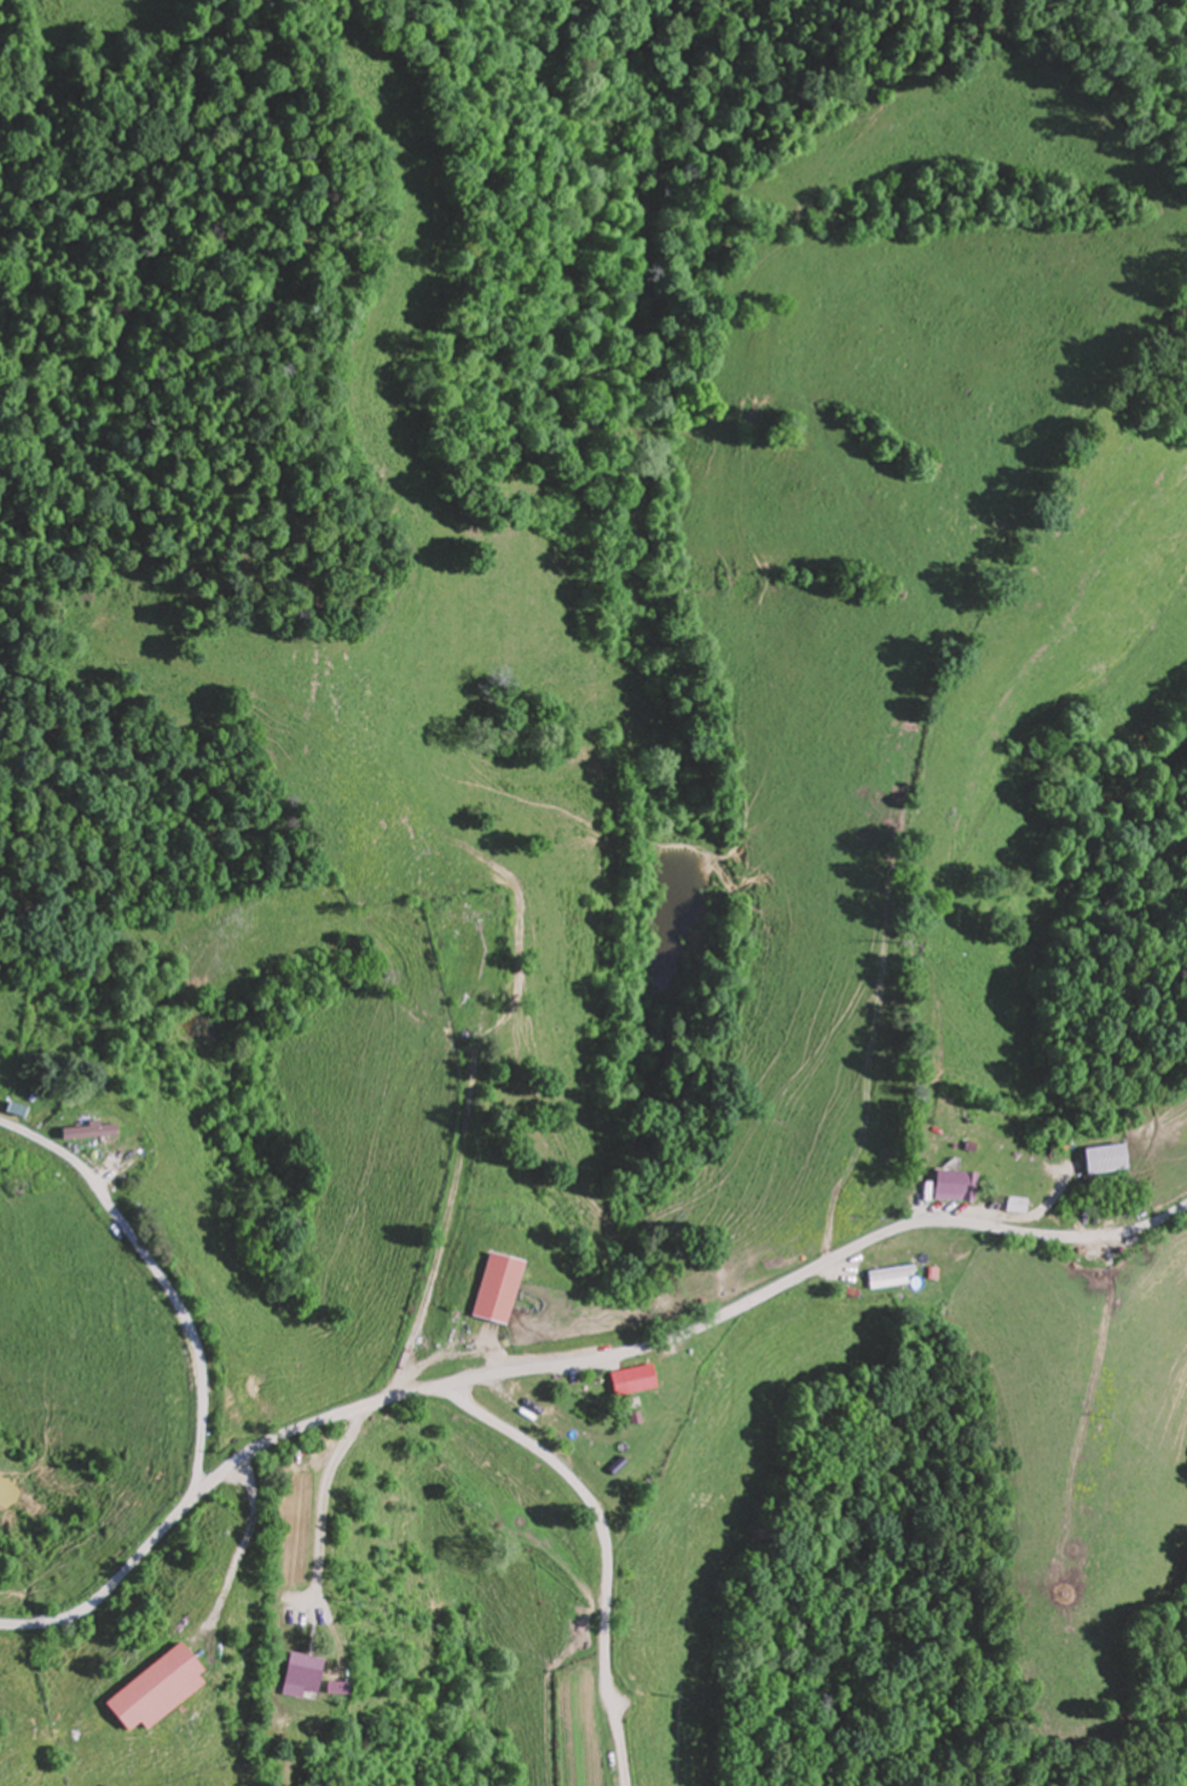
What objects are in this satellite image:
road: (846, 839)
building: (457, 920)
building: (8, 1110)
building: (82, 1132)
building: (1100, 1160)
building: (943, 1177)
building: (1011, 1204)
building: (887, 1277)
building: (491, 1289)
road: (572, 1364)
building: (626, 1381)
building: (487, 1512)
building: (296, 1677)
road: (169, 1682)
building: (149, 1692)

